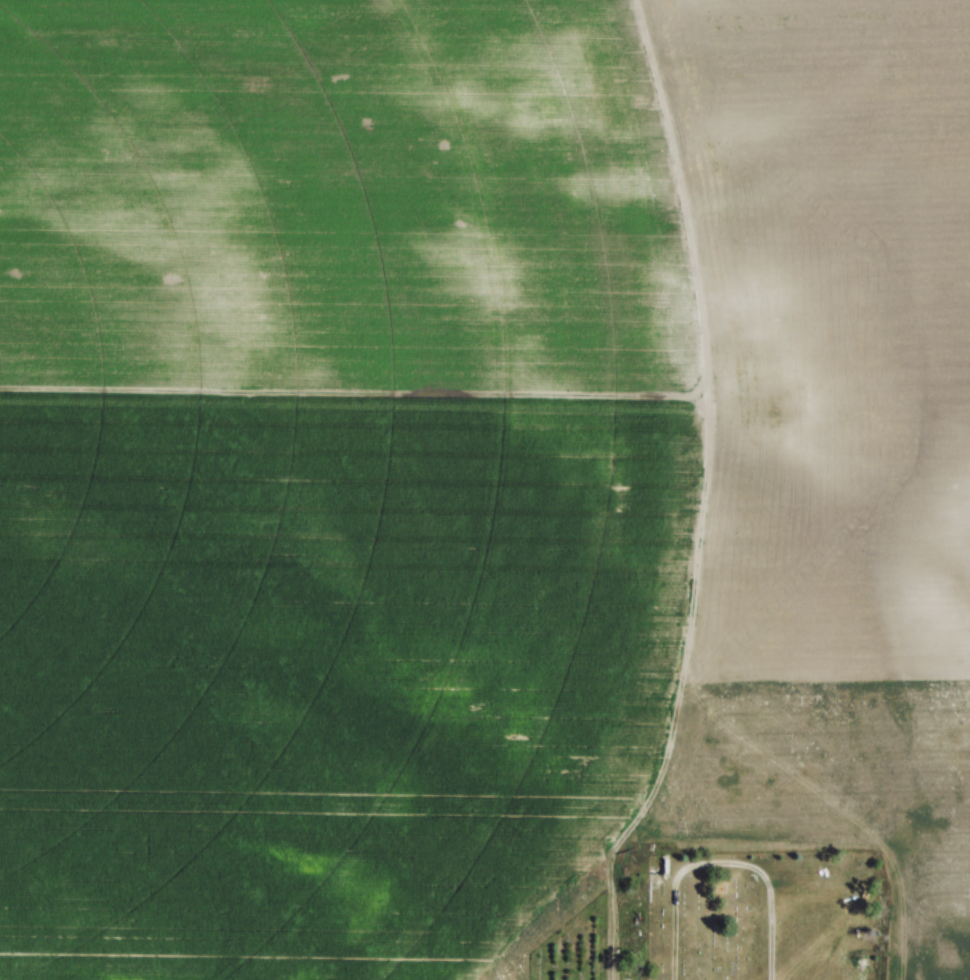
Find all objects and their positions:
road: (723, 862)

